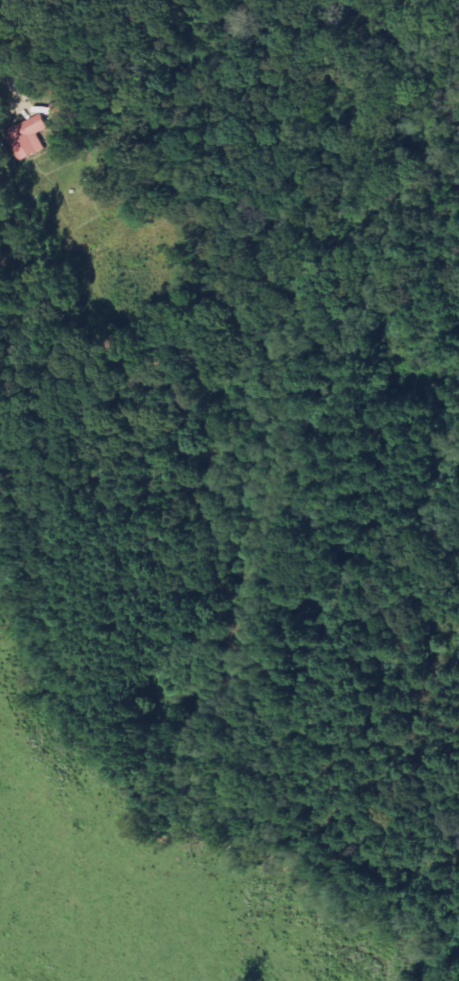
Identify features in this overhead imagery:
road: (9, 74)
building: (60, 108)
building: (27, 138)

